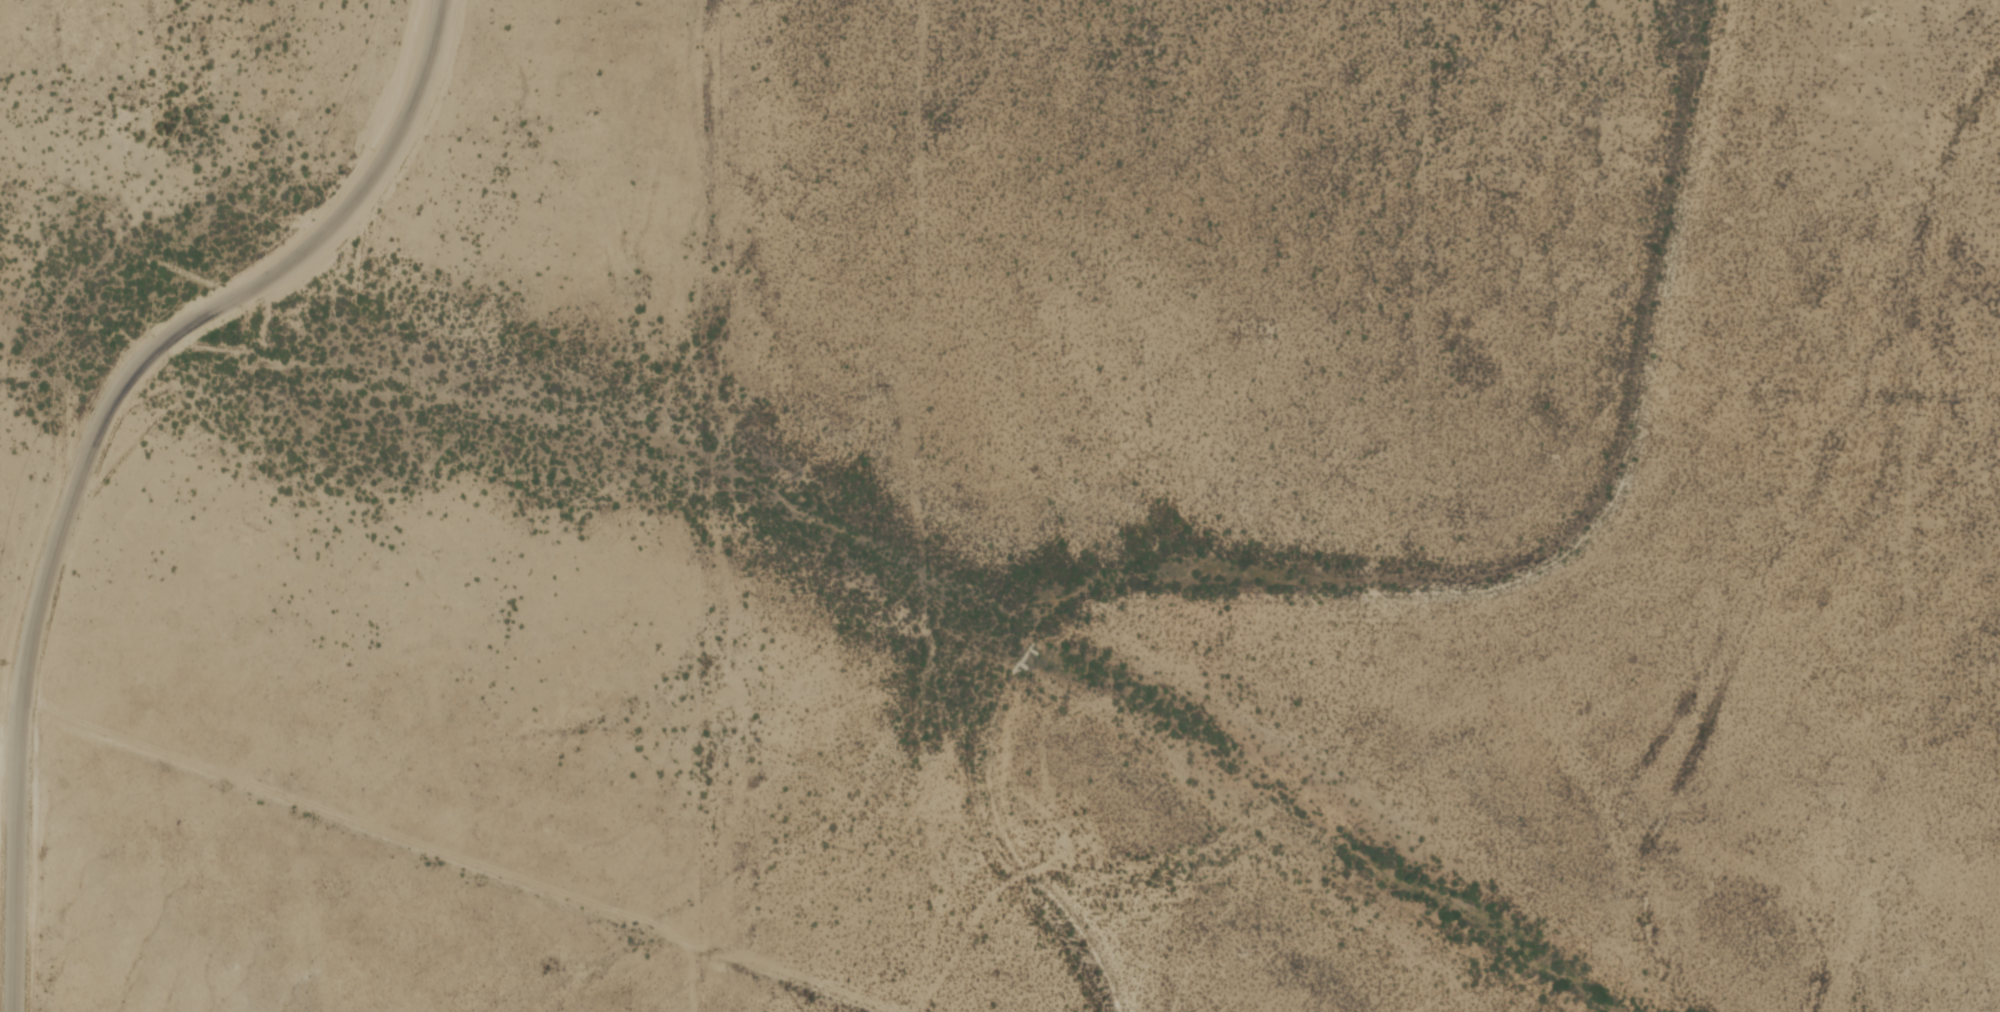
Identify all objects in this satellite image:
road: (96, 439)

